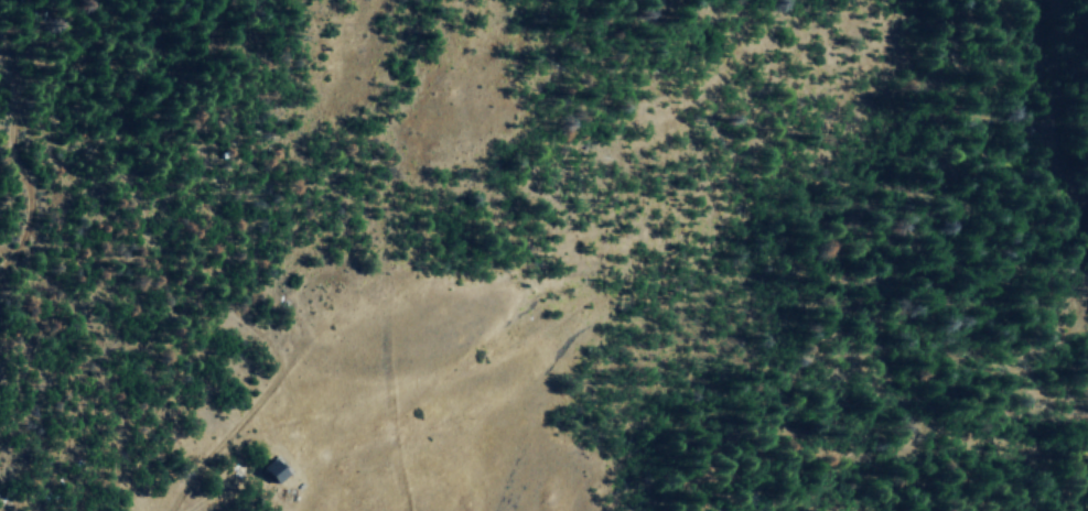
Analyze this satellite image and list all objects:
building: (277, 469)

